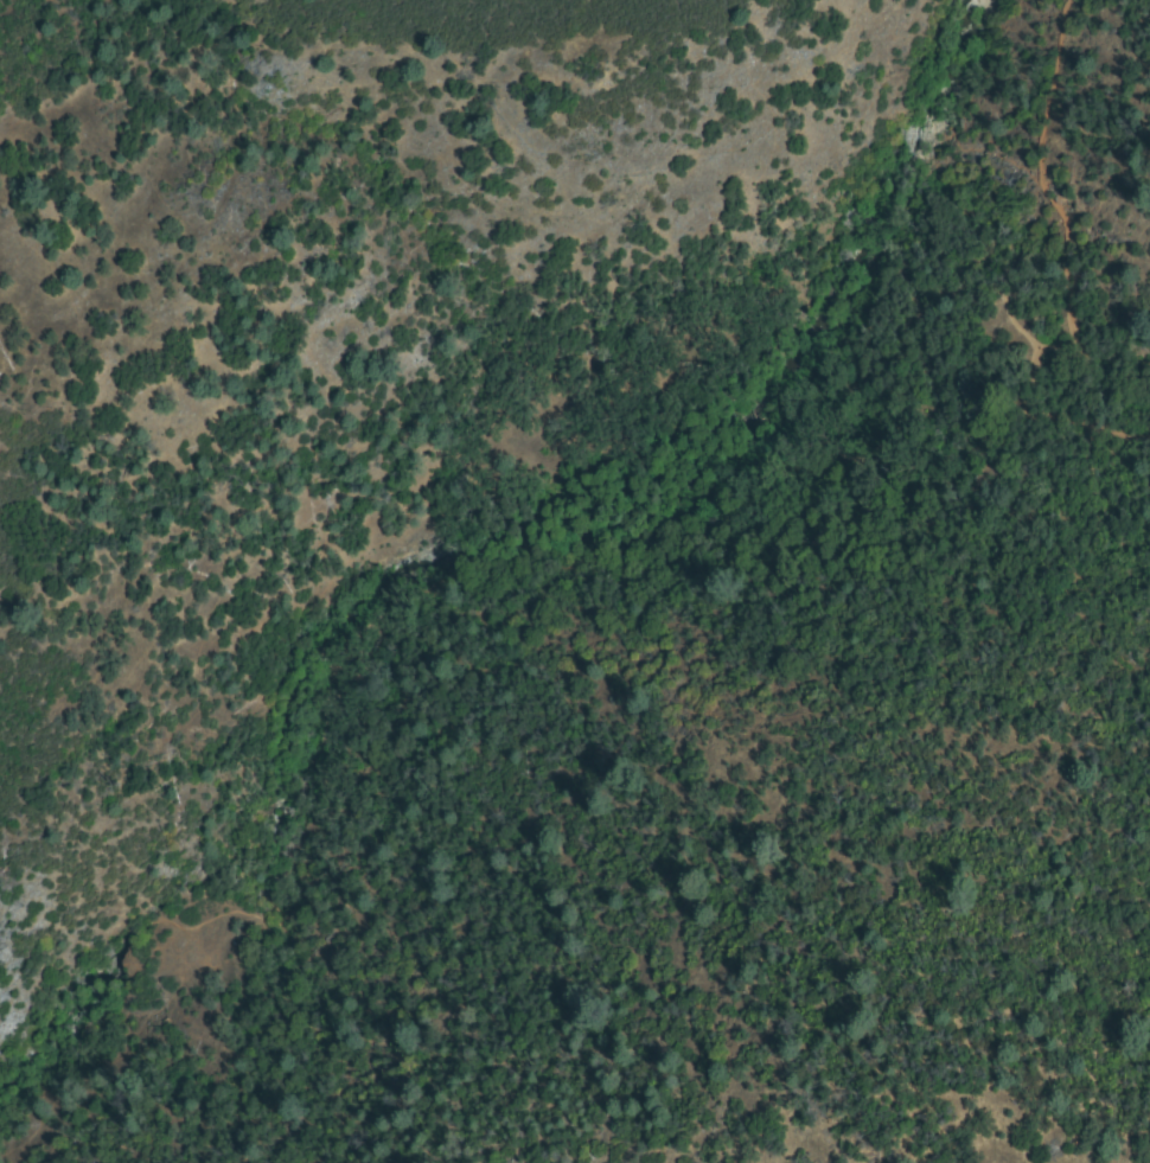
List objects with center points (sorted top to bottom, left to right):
road: (1056, 222)

